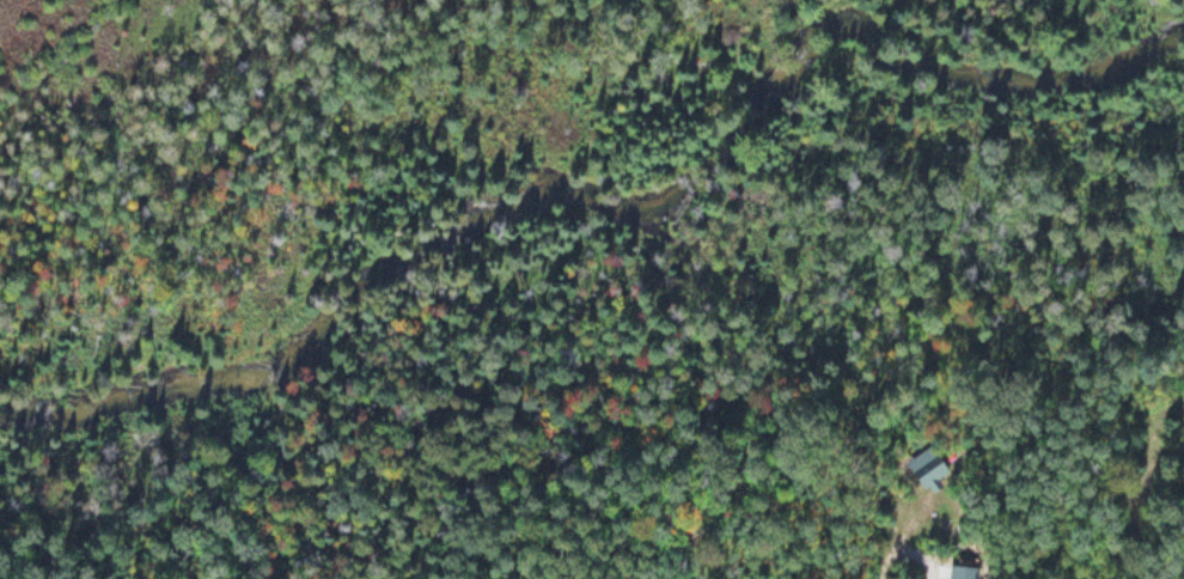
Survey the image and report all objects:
river: (625, 212)
building: (927, 467)
road: (904, 537)

